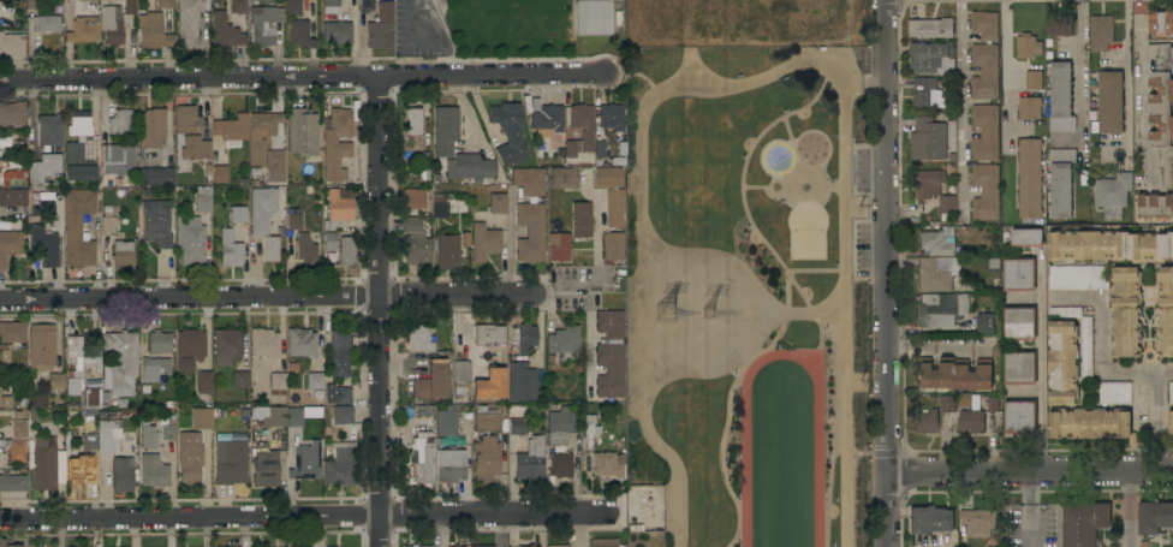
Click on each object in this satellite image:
building: (93, 0)
building: (67, 1)
building: (254, 2)
building: (34, 4)
building: (163, 4)
building: (367, 5)
building: (238, 6)
building: (292, 6)
building: (130, 7)
building: (331, 10)
building: (593, 17)
building: (766, 18)
building: (189, 20)
road: (415, 20)
building: (42, 23)
building: (1161, 23)
building: (264, 24)
building: (84, 25)
building: (984, 25)
building: (1059, 25)
building: (380, 26)
building: (782, 26)
building: (117, 28)
park: (510, 28)
building: (930, 28)
building: (153, 31)
building: (225, 31)
building: (337, 32)
building: (1101, 32)
building: (300, 34)
building: (11, 44)
building: (1026, 47)
building: (927, 57)
road: (692, 64)
building: (984, 71)
road: (637, 72)
road: (494, 75)
road: (1007, 76)
road: (189, 77)
road: (859, 77)
road: (1129, 79)
road: (1082, 81)
road: (660, 93)
building: (928, 96)
building: (1031, 97)
building: (1061, 99)
building: (1111, 102)
road: (960, 107)
building: (1162, 113)
building: (12, 114)
building: (611, 117)
building: (544, 119)
building: (412, 121)
building: (119, 123)
building: (263, 125)
building: (49, 130)
building: (231, 130)
building: (445, 130)
building: (578, 131)
building: (302, 132)
building: (986, 132)
building: (510, 135)
building: (189, 136)
building: (928, 139)
building: (335, 143)
road: (791, 143)
building: (77, 148)
building: (153, 149)
building: (596, 151)
building: (118, 159)
building: (275, 166)
building: (470, 167)
building: (43, 171)
building: (220, 174)
building: (608, 177)
road: (775, 177)
building: (562, 178)
building: (1030, 178)
building: (528, 180)
building: (1060, 183)
road: (742, 184)
building: (929, 184)
road: (755, 186)
road: (787, 188)
road: (790, 190)
building: (986, 192)
building: (1112, 195)
building: (12, 197)
building: (413, 198)
building: (203, 200)
building: (498, 203)
building: (947, 203)
building: (43, 204)
building: (1155, 206)
building: (437, 207)
building: (338, 208)
building: (615, 208)
building: (262, 209)
building: (238, 214)
building: (292, 219)
building: (582, 219)
building: (108, 221)
building: (156, 222)
building: (78, 227)
building: (530, 231)
park: (806, 231)
building: (1026, 238)
building: (190, 240)
building: (329, 242)
building: (413, 242)
building: (484, 242)
building: (10, 243)
building: (43, 244)
building: (936, 244)
building: (559, 246)
building: (612, 246)
building: (1109, 246)
building: (305, 248)
building: (270, 249)
building: (230, 250)
building: (346, 250)
building: (447, 251)
building: (121, 255)
building: (993, 263)
road: (815, 270)
road: (883, 273)
building: (936, 273)
building: (1019, 274)
building: (1078, 278)
road: (787, 292)
road: (696, 293)
road: (459, 296)
road: (1073, 296)
road: (190, 297)
park: (744, 297)
building: (940, 309)
road: (381, 311)
road: (845, 311)
building: (1165, 311)
building: (1065, 313)
building: (1126, 313)
power tower: (671, 314)
power tower: (719, 314)
road: (797, 315)
road: (642, 320)
building: (986, 323)
building: (1019, 323)
road: (1103, 331)
building: (12, 332)
building: (489, 334)
building: (525, 338)
building: (418, 339)
road: (820, 340)
building: (157, 343)
building: (300, 343)
building: (564, 343)
road: (696, 343)
building: (190, 344)
building: (264, 344)
building: (226, 346)
road: (936, 346)
building: (41, 347)
building: (1086, 349)
building: (338, 353)
building: (609, 355)
road: (1042, 362)
building: (1062, 362)
building: (120, 363)
building: (78, 365)
building: (184, 365)
track: (817, 367)
road: (1138, 367)
building: (154, 368)
building: (1019, 368)
building: (954, 374)
building: (460, 376)
building: (240, 380)
building: (314, 380)
building: (55, 381)
building: (203, 381)
building: (431, 381)
building: (522, 382)
building: (278, 384)
building: (490, 384)
building: (0, 388)
building: (0, 392)
building: (1171, 392)
building: (1114, 393)
building: (338, 394)
building: (91, 398)
building: (0, 402)
building: (6, 402)
building: (35, 403)
building: (948, 404)
building: (993, 404)
track: (746, 414)
building: (18, 415)
building: (343, 415)
building: (269, 416)
building: (294, 417)
building: (1019, 417)
building: (201, 418)
road: (1147, 420)
building: (486, 421)
building: (516, 421)
building: (971, 421)
building: (927, 422)
building: (446, 423)
road: (726, 423)
building: (1091, 423)
building: (1171, 424)
building: (559, 426)
road: (835, 427)
building: (18, 429)
building: (168, 429)
building: (147, 435)
building: (107, 436)
building: (88, 439)
building: (17, 450)
road: (667, 454)
building: (190, 457)
building: (484, 458)
building: (4, 459)
building: (421, 459)
building: (530, 459)
building: (44, 460)
building: (230, 462)
building: (305, 462)
building: (340, 464)
building: (560, 464)
track: (817, 464)
building: (449, 465)
building: (608, 465)
building: (266, 469)
building: (79, 470)
building: (153, 471)
road: (1029, 474)
building: (121, 475)
building: (12, 483)
building: (644, 507)
road: (1034, 510)
road: (1130, 510)
road: (499, 515)
road: (191, 516)
building: (1154, 517)
building: (929, 519)
building: (978, 522)
building: (1084, 523)
building: (1, 542)
building: (602, 542)
building: (1172, 542)
building: (1144, 543)
building: (413, 546)
building: (427, 546)
building: (455, 546)
building: (483, 546)
building: (529, 546)
building: (558, 546)

